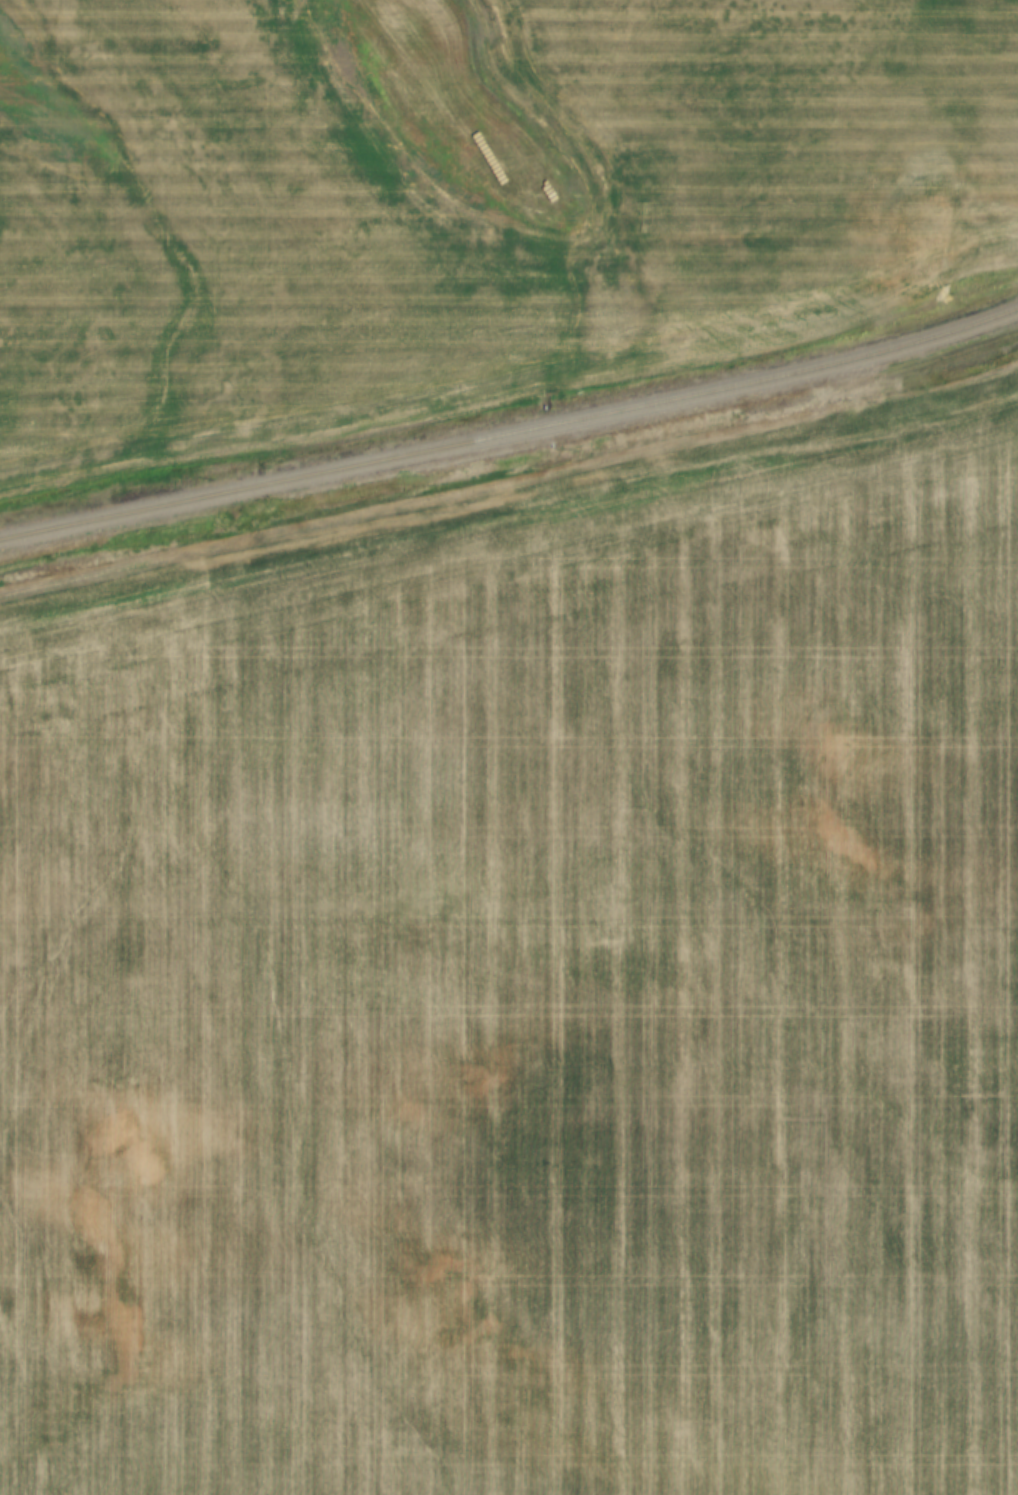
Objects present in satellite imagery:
railway: (511, 433)

